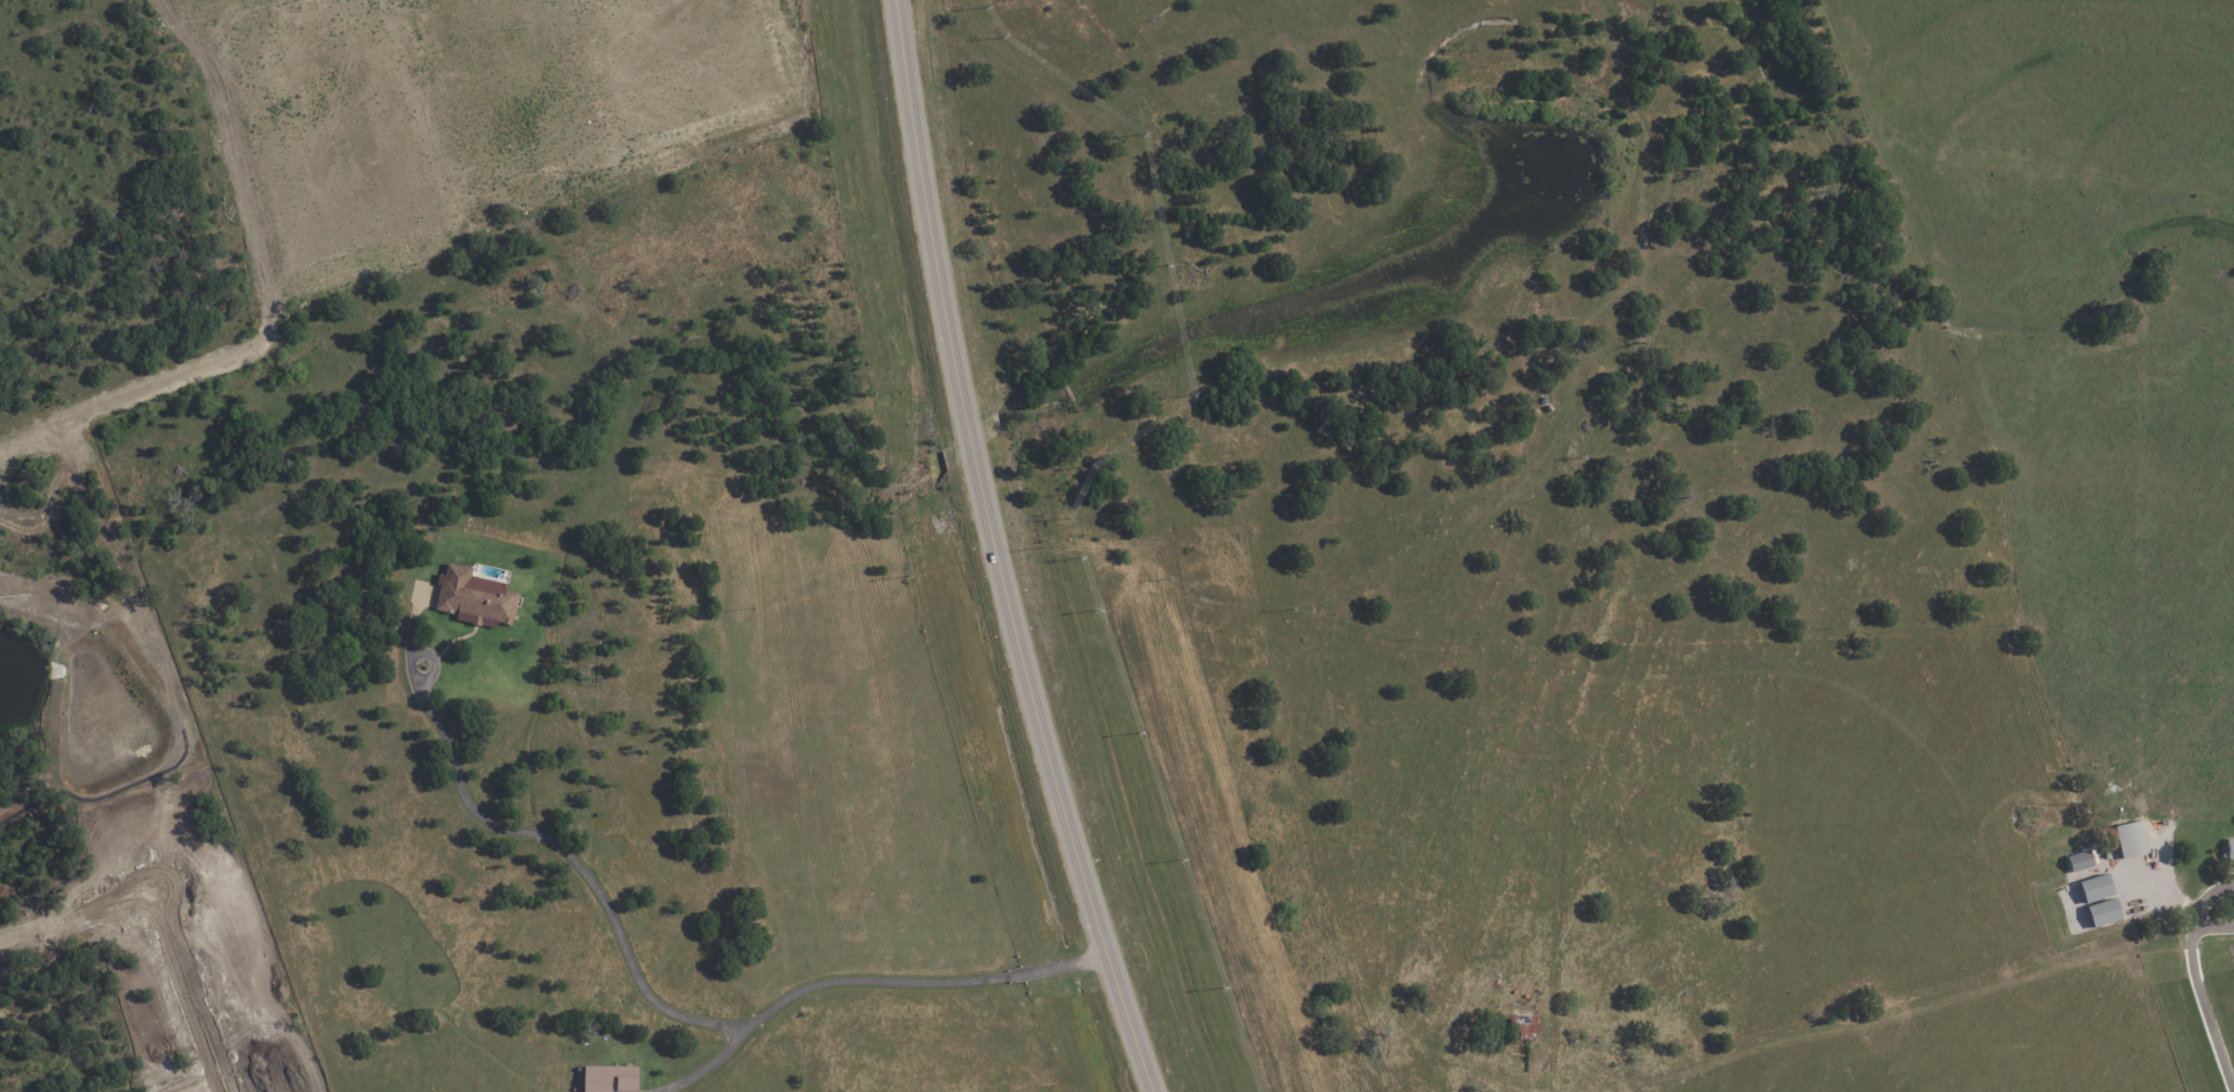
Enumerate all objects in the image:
road: (999, 553)
building: (475, 597)
building: (2131, 840)
building: (2230, 851)
building: (2096, 887)
road: (178, 901)
building: (2104, 913)
road: (2202, 1001)
road: (668, 1009)
building: (1523, 1017)
road: (711, 1065)
road: (181, 1074)
building: (611, 1079)

